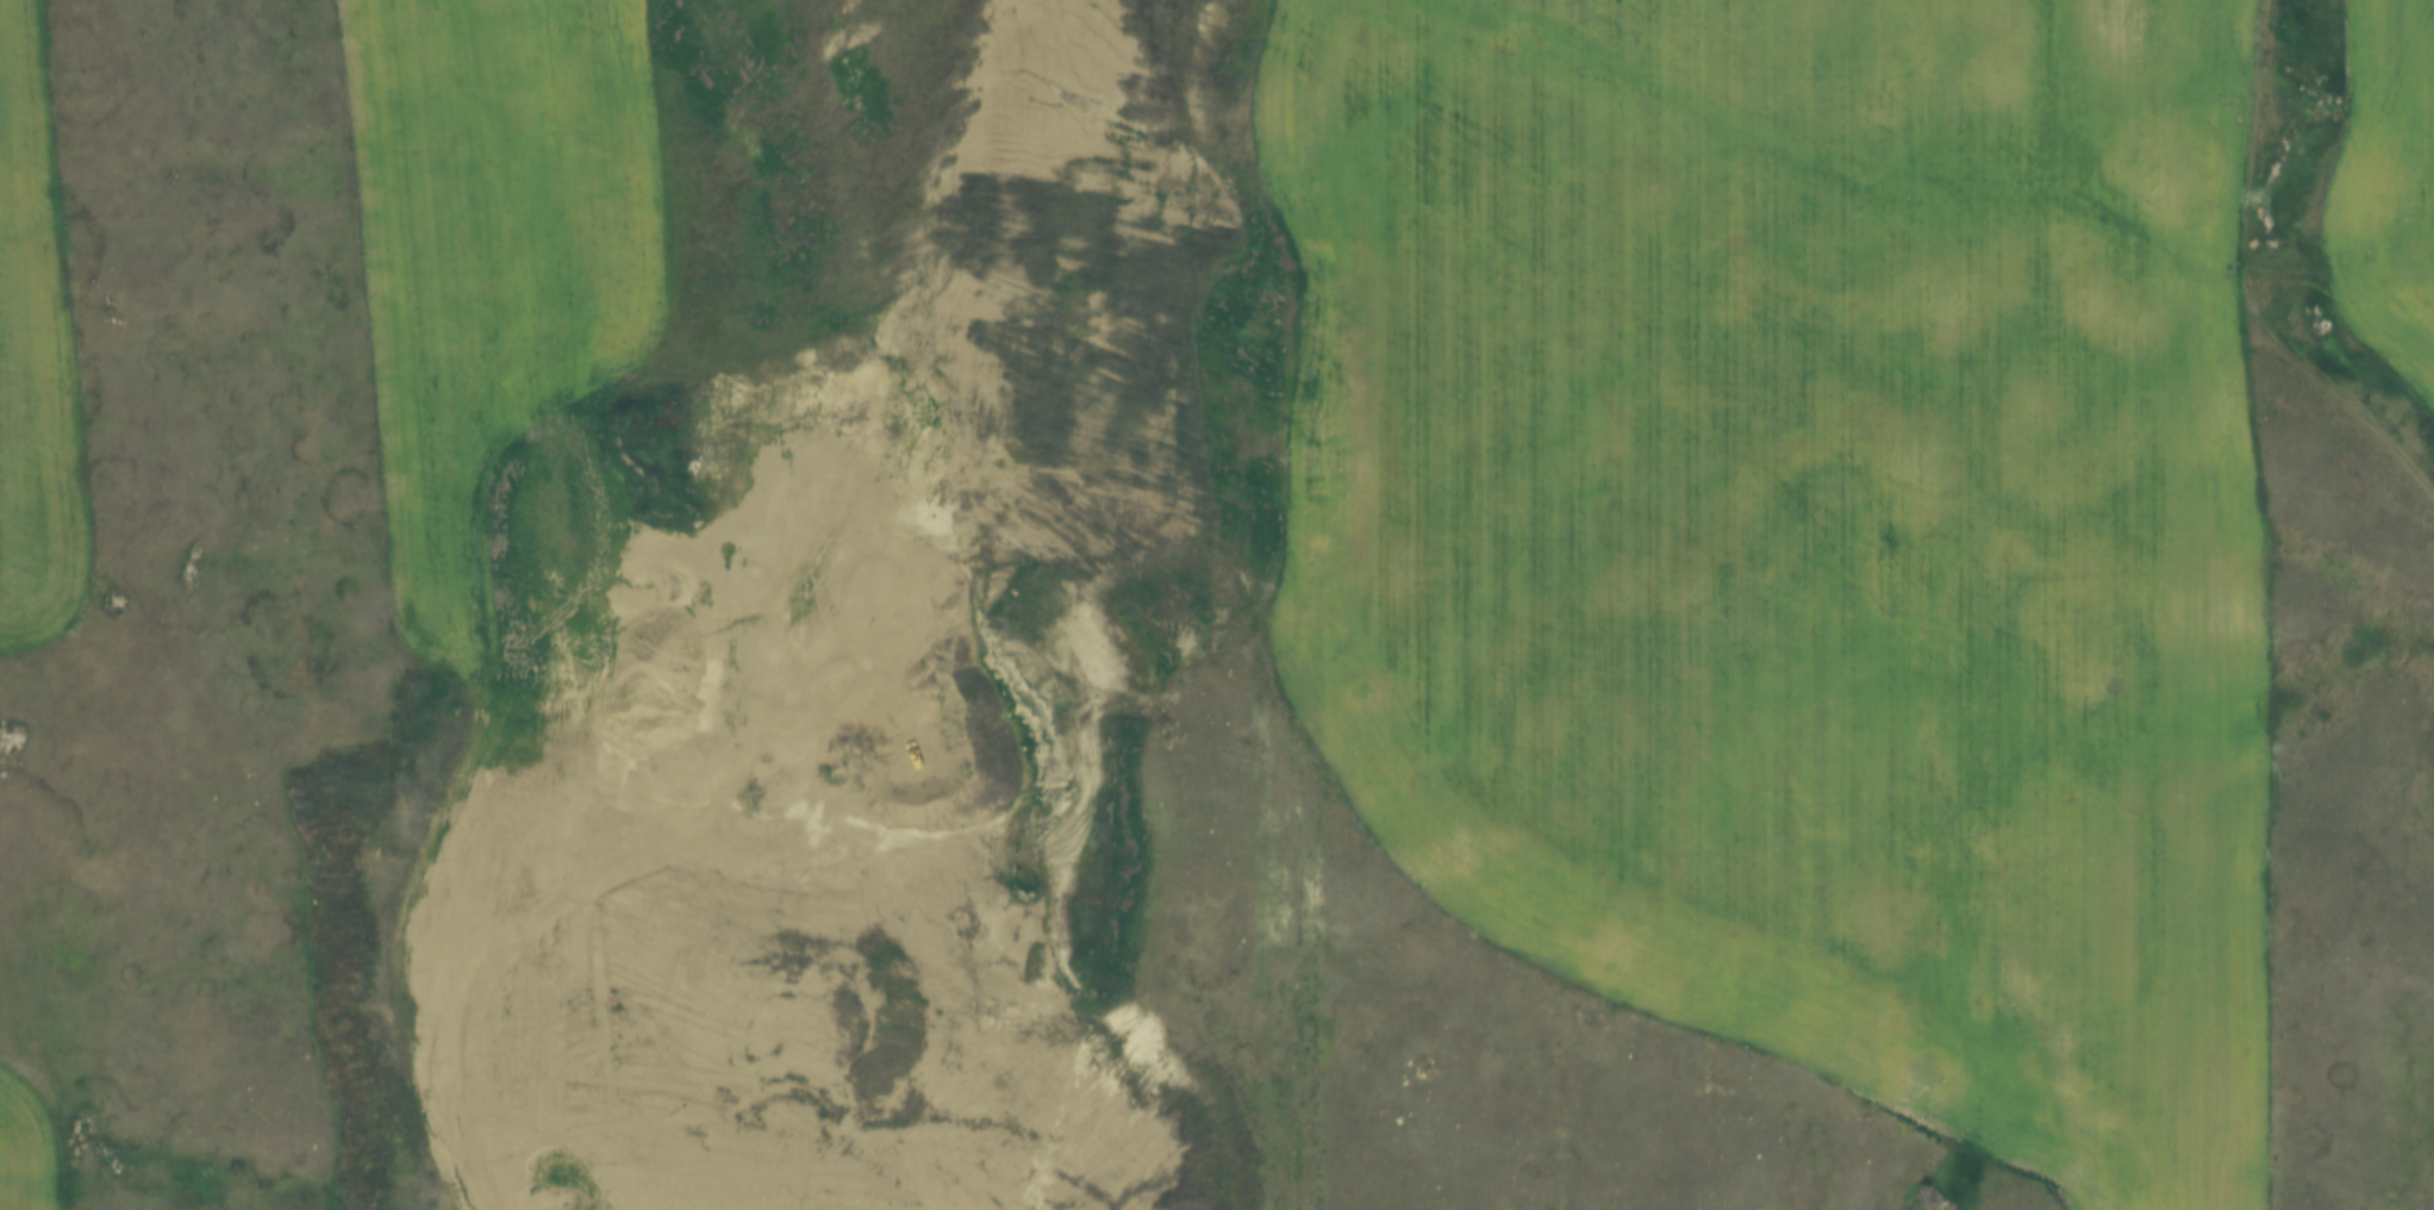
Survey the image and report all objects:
road: (2238, 291)

